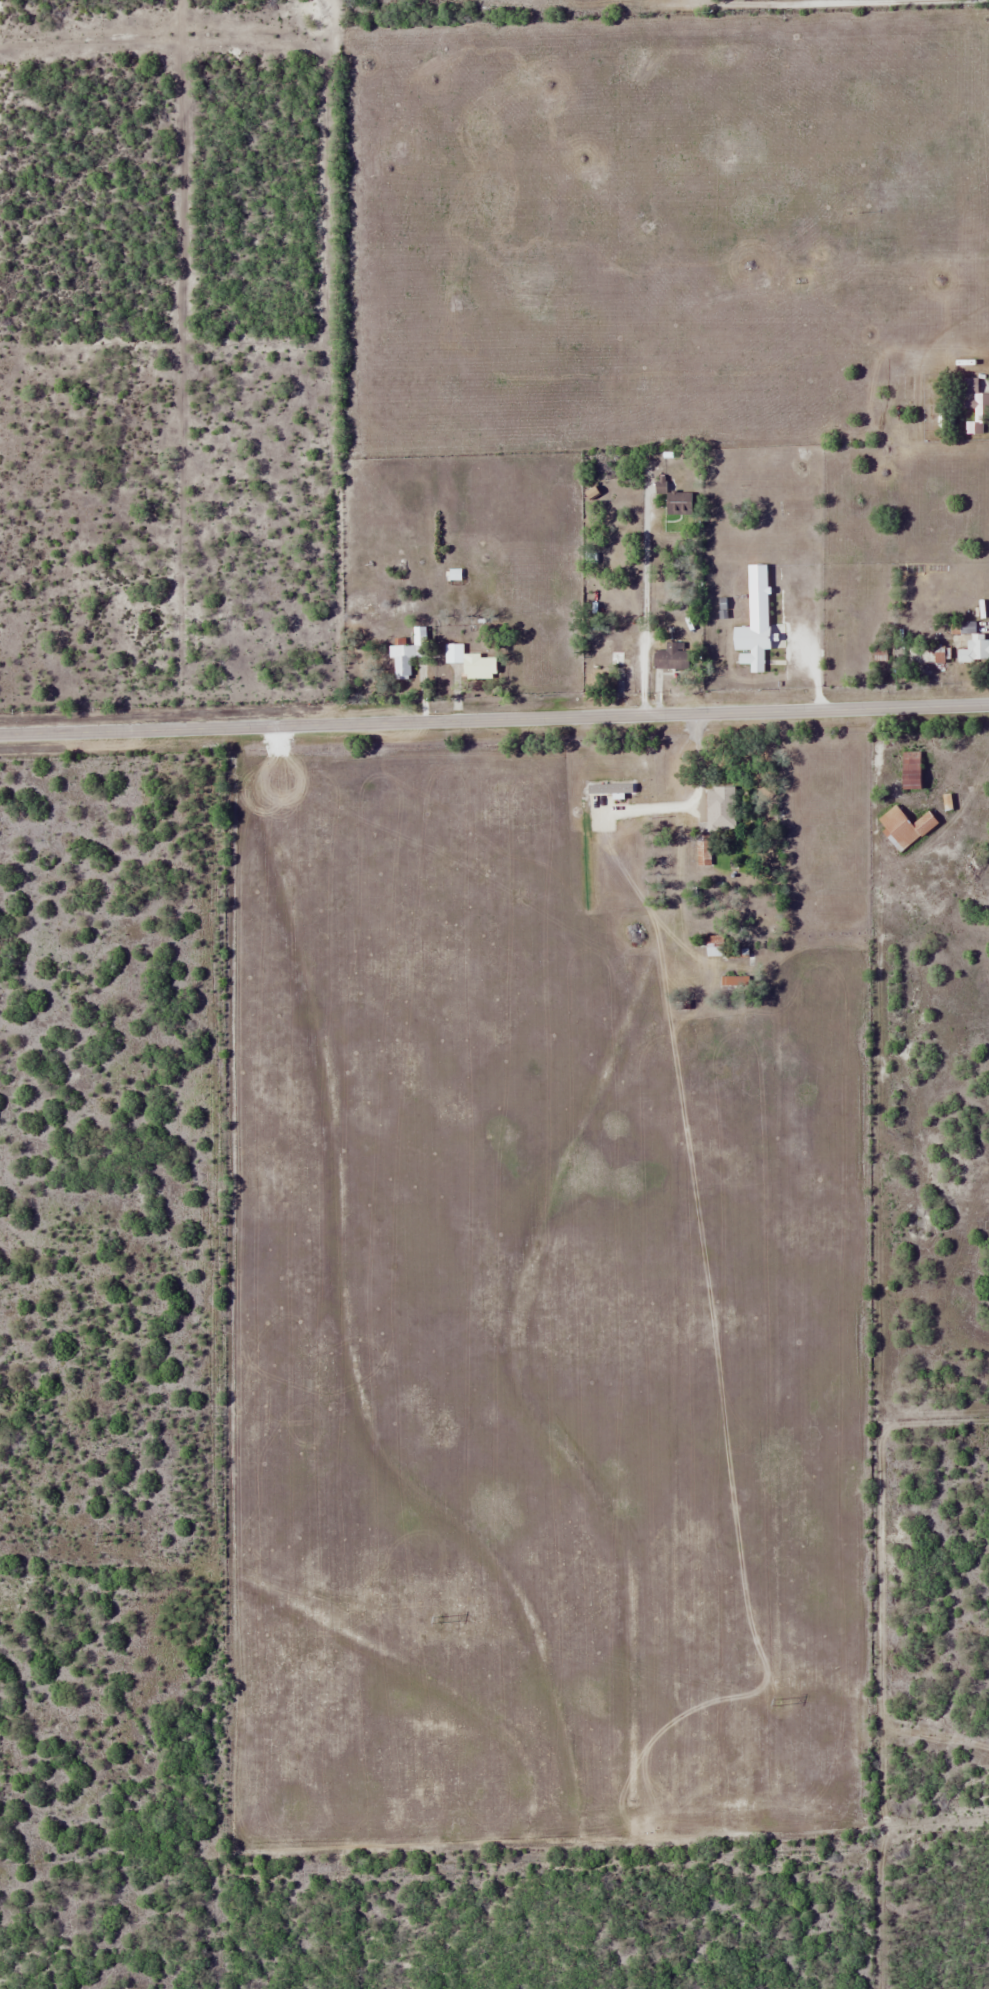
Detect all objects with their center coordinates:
road: (703, 0)
building: (973, 406)
building: (946, 419)
building: (676, 502)
building: (451, 553)
building: (364, 602)
building: (750, 645)
building: (408, 653)
building: (668, 653)
building: (928, 656)
building: (470, 662)
road: (494, 719)
building: (721, 807)
building: (903, 827)
power tower: (103, 1537)
power tower: (438, 1619)
power tower: (778, 1699)

